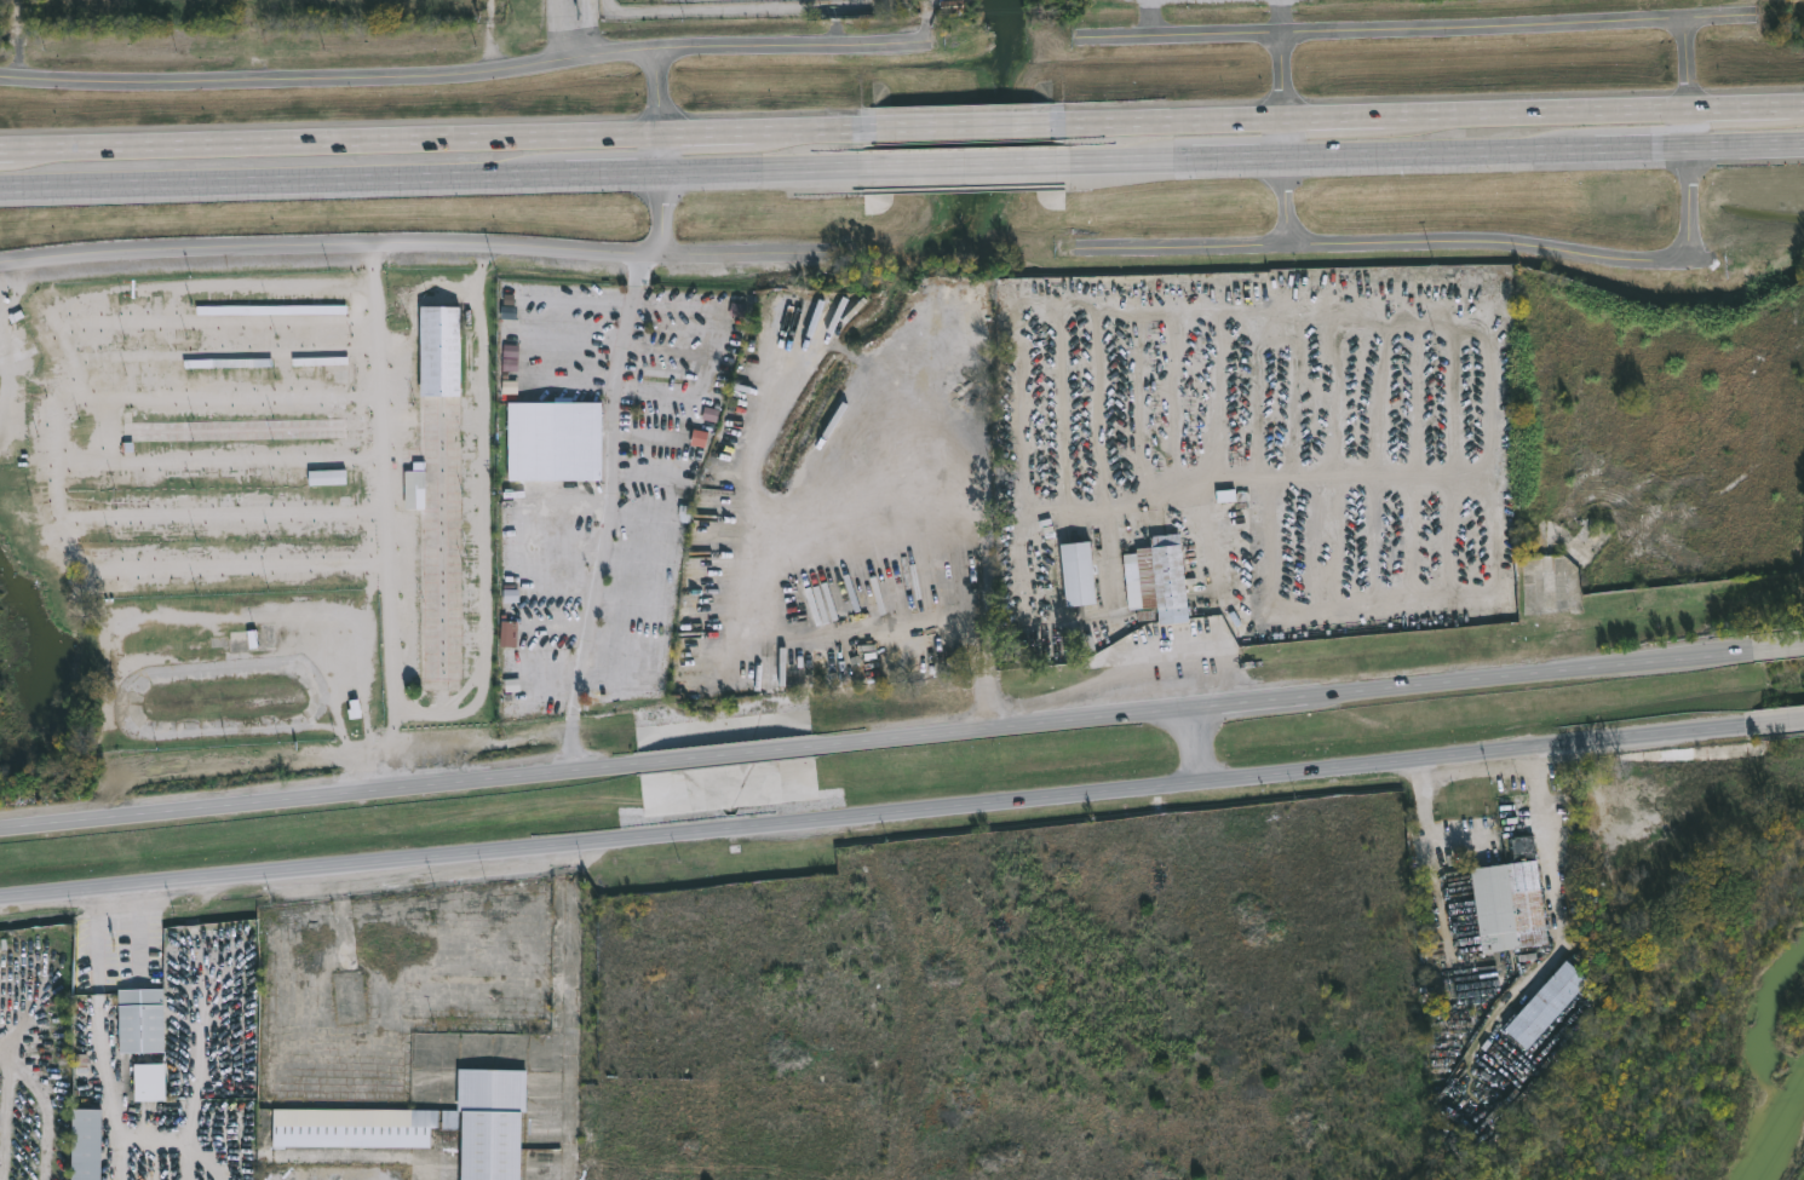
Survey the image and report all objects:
building: (953, 6)
park: (1369, 18)
road: (915, 27)
road: (574, 33)
road: (1417, 33)
road: (489, 38)
road: (444, 80)
road: (901, 125)
road: (1286, 142)
road: (1694, 142)
road: (1748, 145)
road: (1645, 148)
road: (1442, 152)
road: (666, 155)
road: (1240, 159)
road: (929, 165)
road: (615, 171)
road: (282, 179)
road: (1411, 247)
road: (410, 248)
road: (5, 349)
building: (442, 351)
road: (56, 437)
building: (557, 441)
building: (328, 478)
road: (1222, 479)
building: (416, 489)
road: (955, 502)
road: (381, 516)
road: (609, 517)
road: (487, 519)
building: (1080, 575)
building: (1160, 580)
building: (510, 634)
building: (243, 637)
road: (1770, 647)
road: (1776, 721)
road: (868, 742)
road: (1196, 744)
road: (874, 811)
road: (1427, 831)
road: (1553, 841)
building: (1513, 900)
building: (1550, 1006)
building: (143, 1021)
building: (153, 1083)
building: (429, 1126)
building: (87, 1145)

